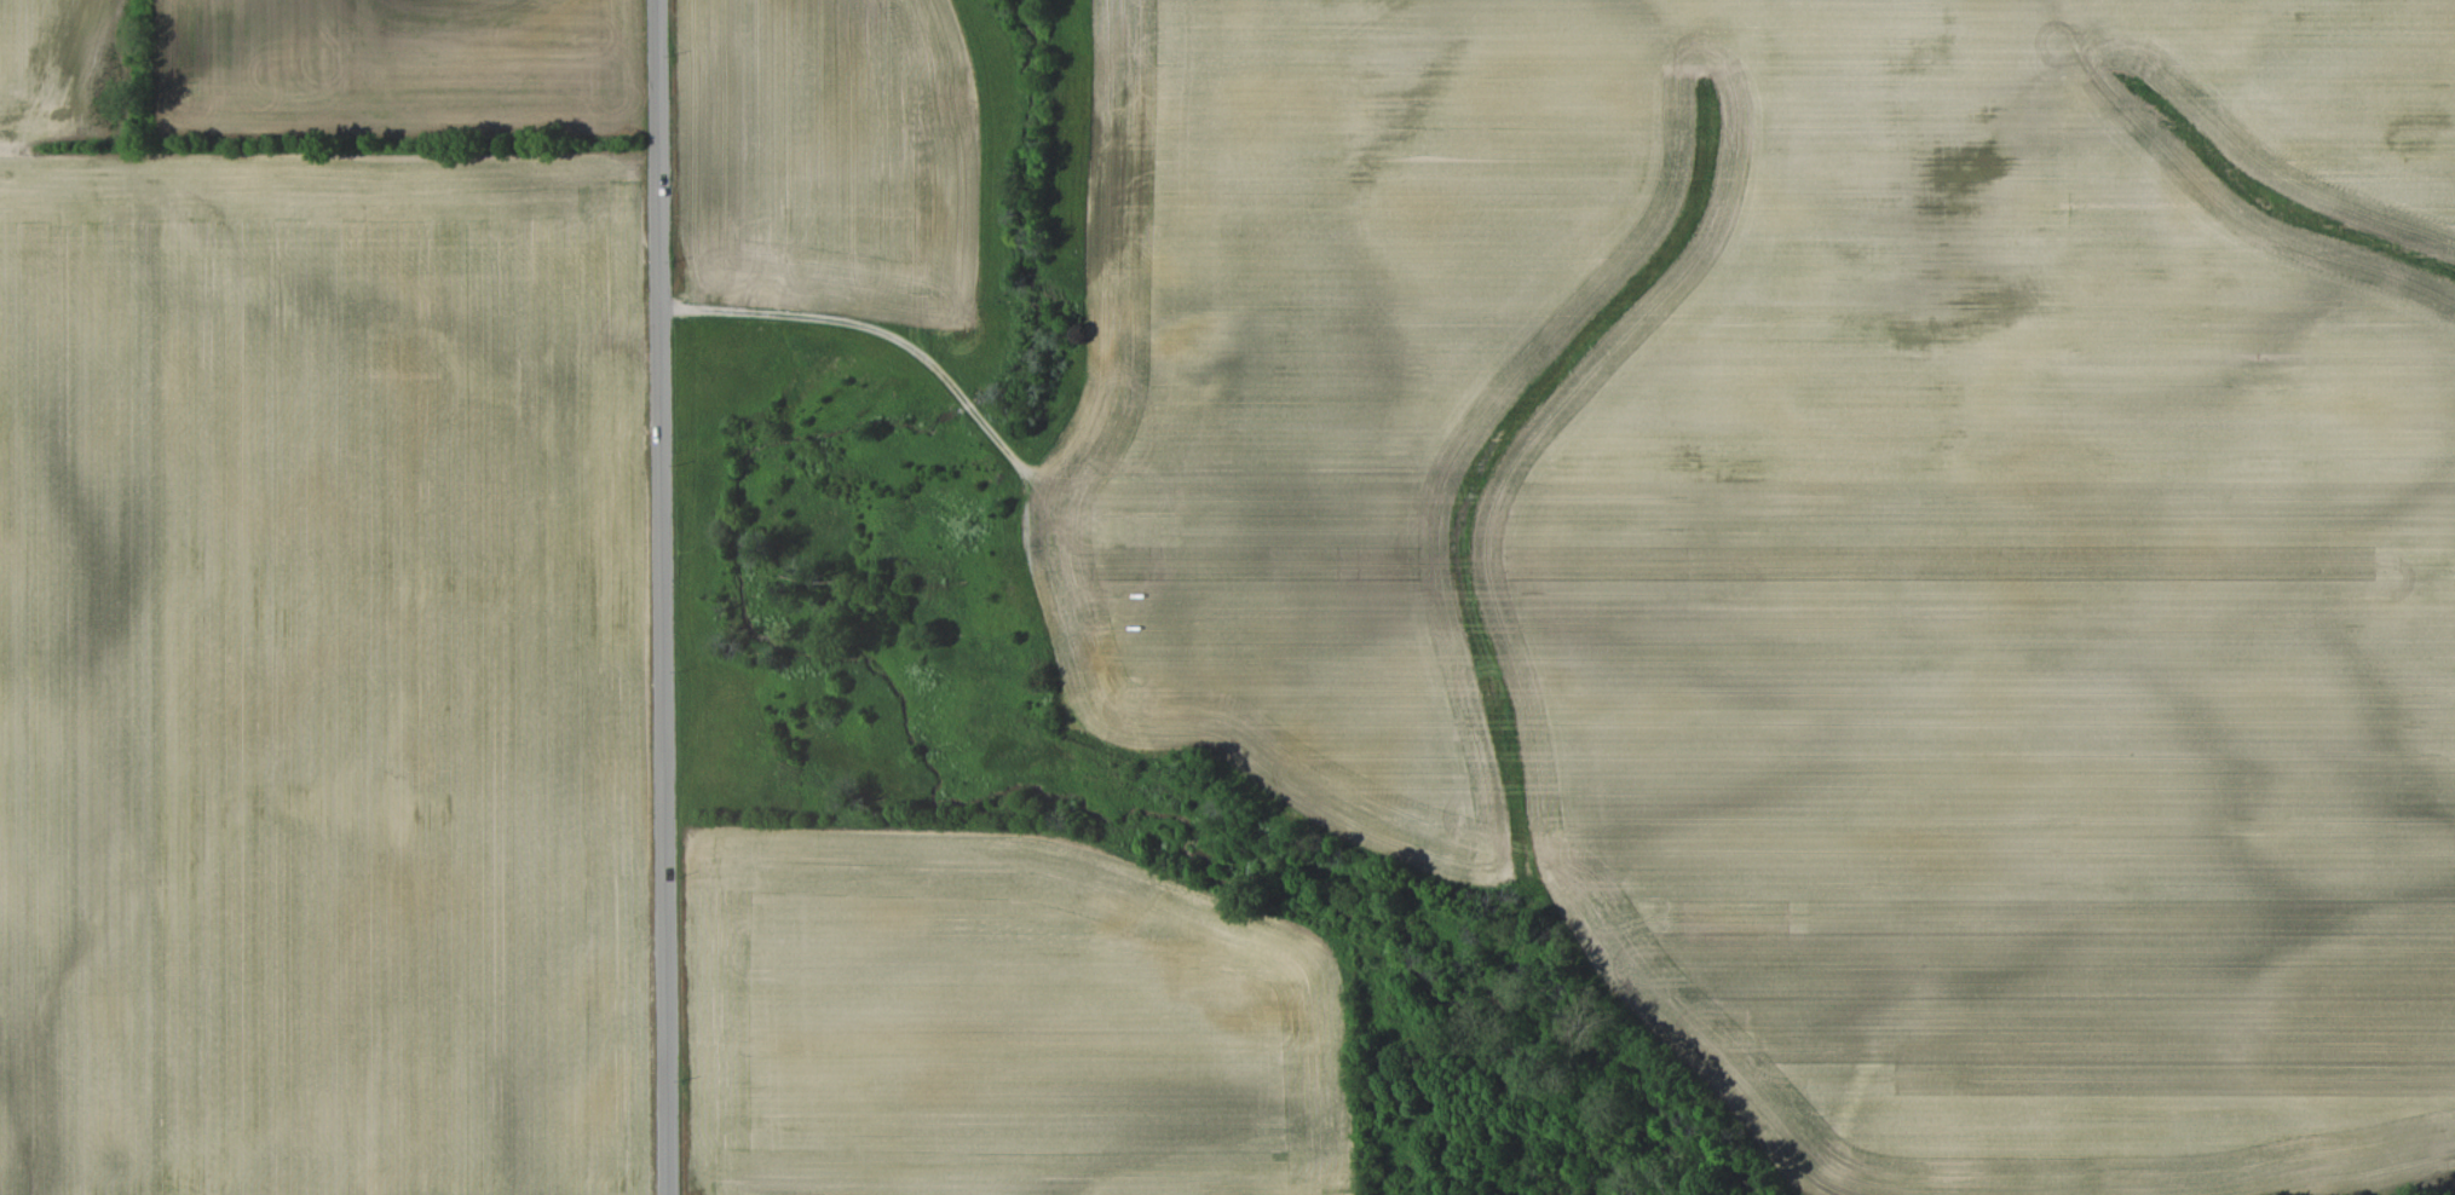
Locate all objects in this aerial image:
road: (946, 353)
road: (661, 596)

